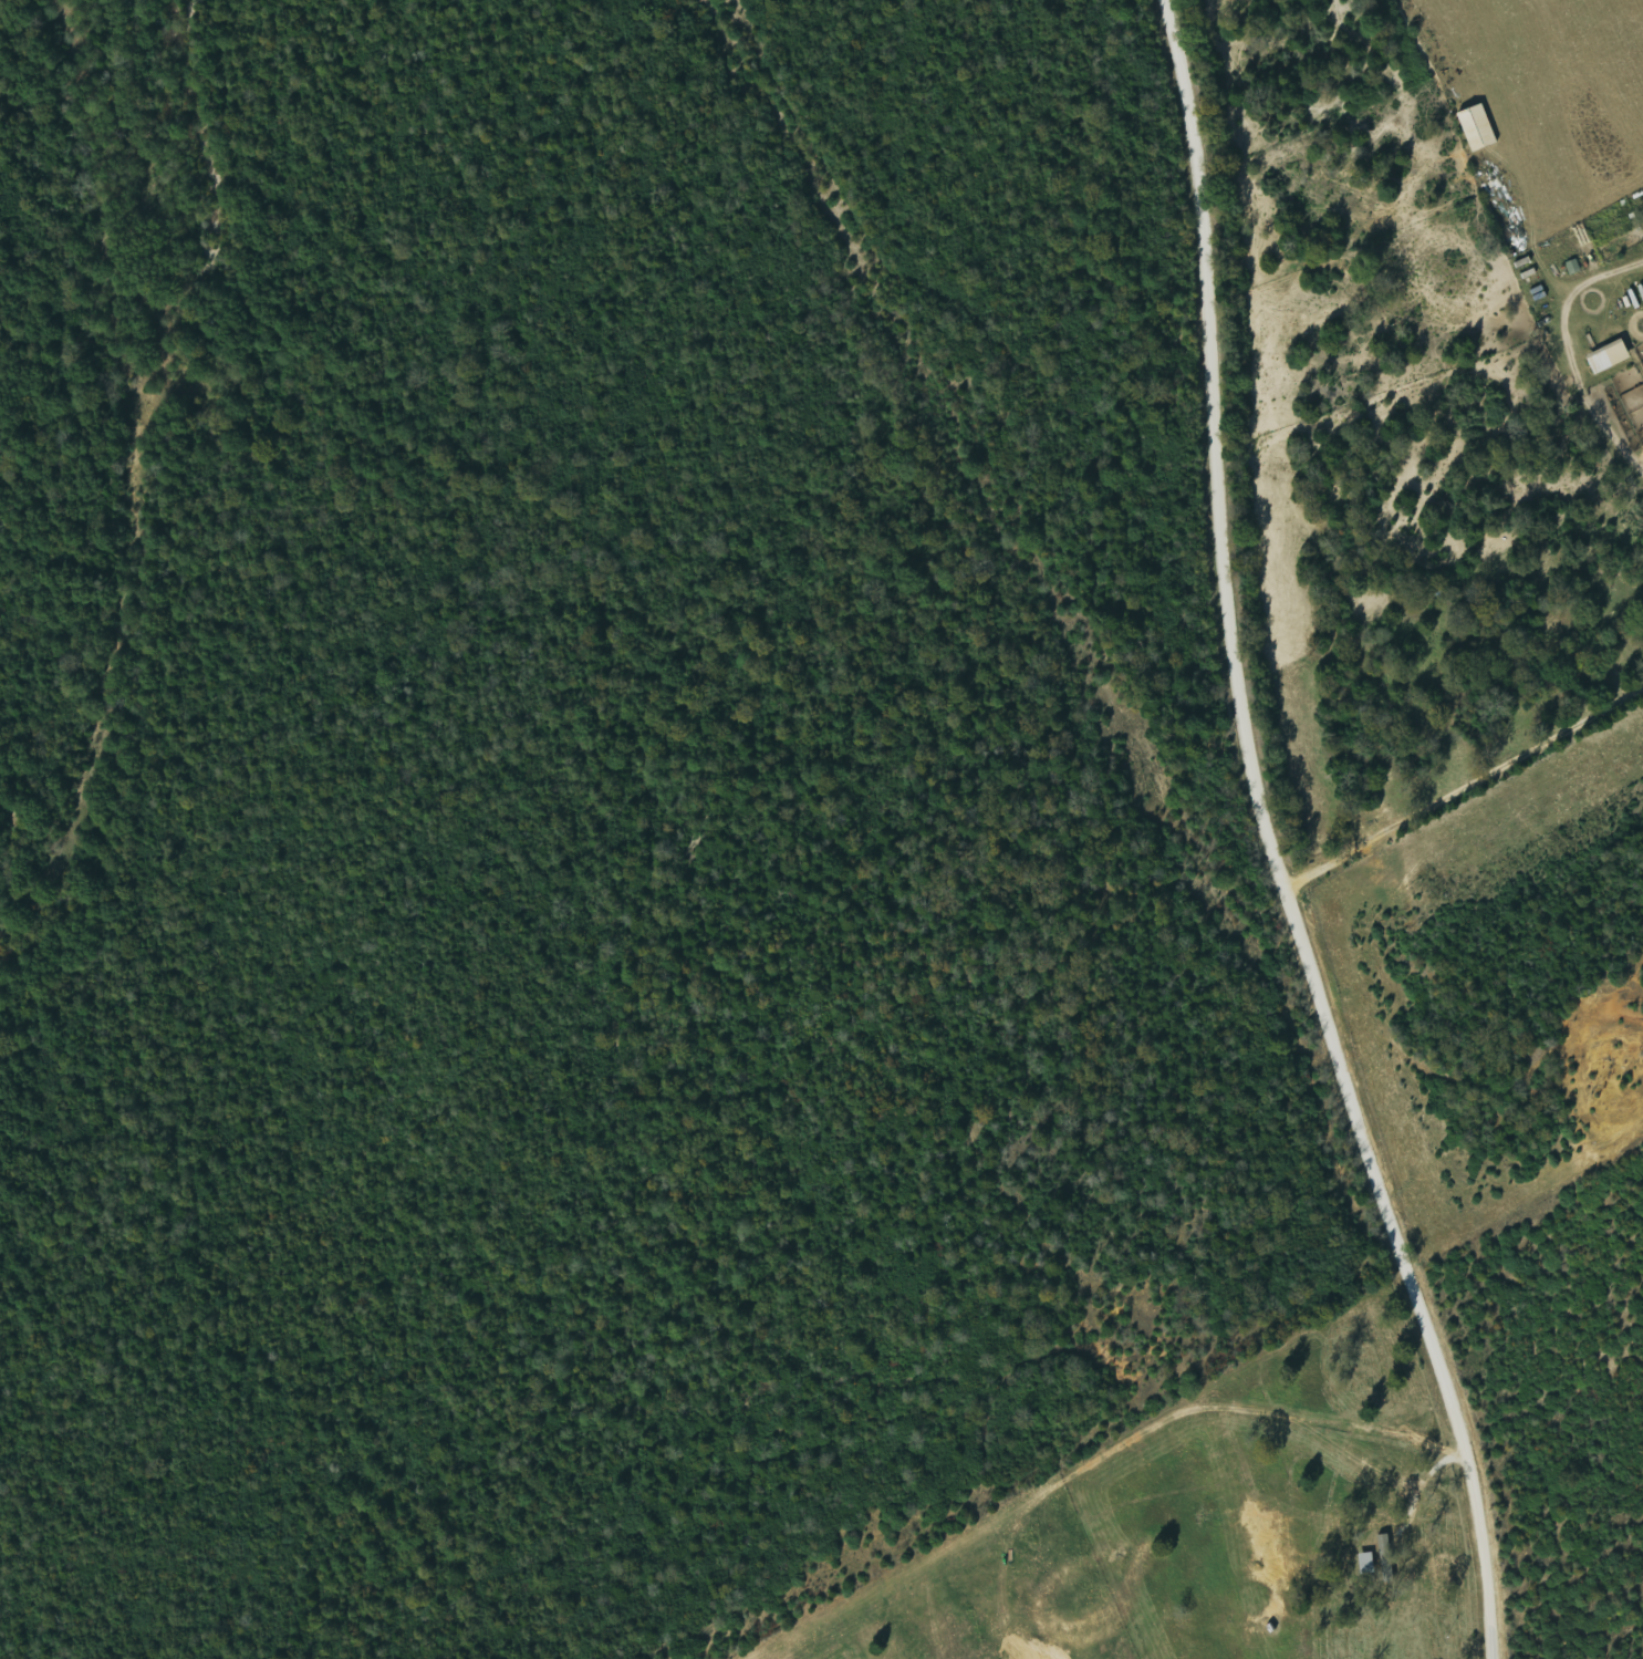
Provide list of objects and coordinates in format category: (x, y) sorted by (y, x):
building: (1480, 128)
building: (1612, 357)
road: (1258, 847)
building: (1386, 1545)
building: (1369, 1564)

